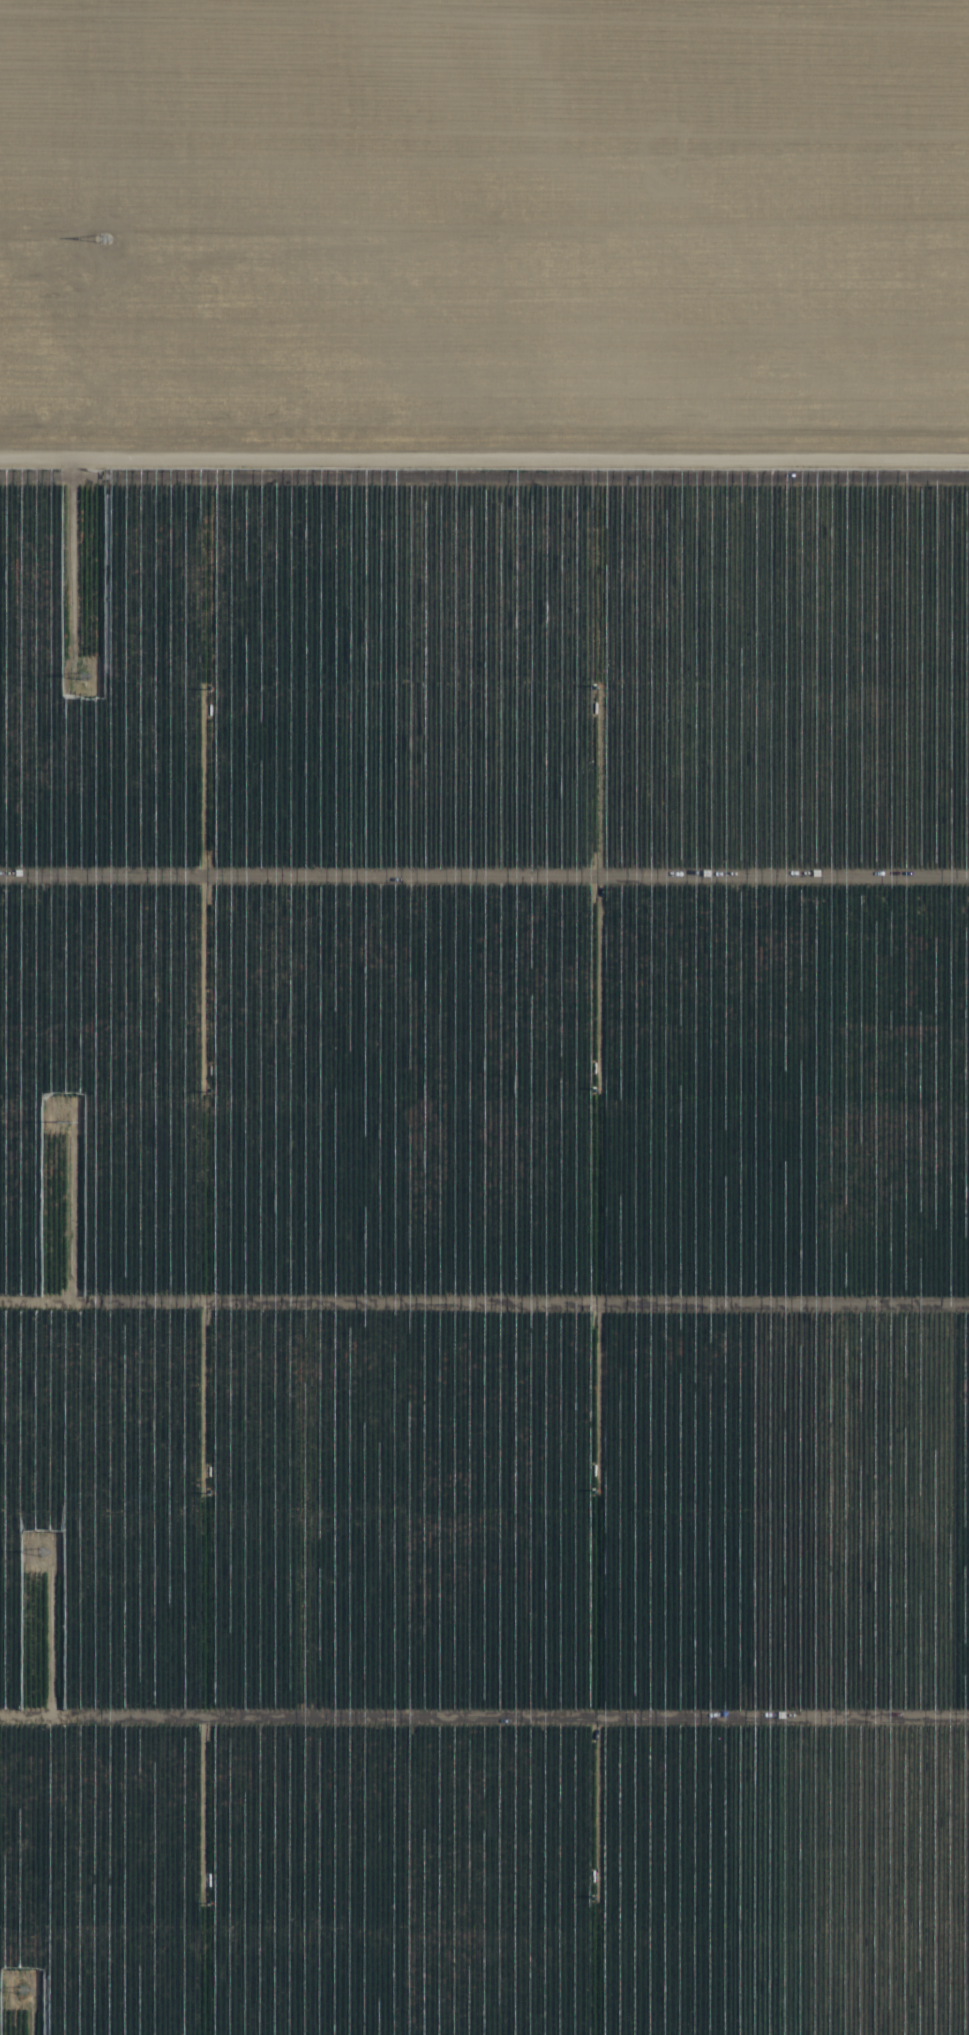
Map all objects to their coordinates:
power tower: (105, 241)
power tower: (86, 677)
crop: (484, 1017)
power tower: (65, 1118)
power tower: (42, 1554)
power tower: (24, 1991)

